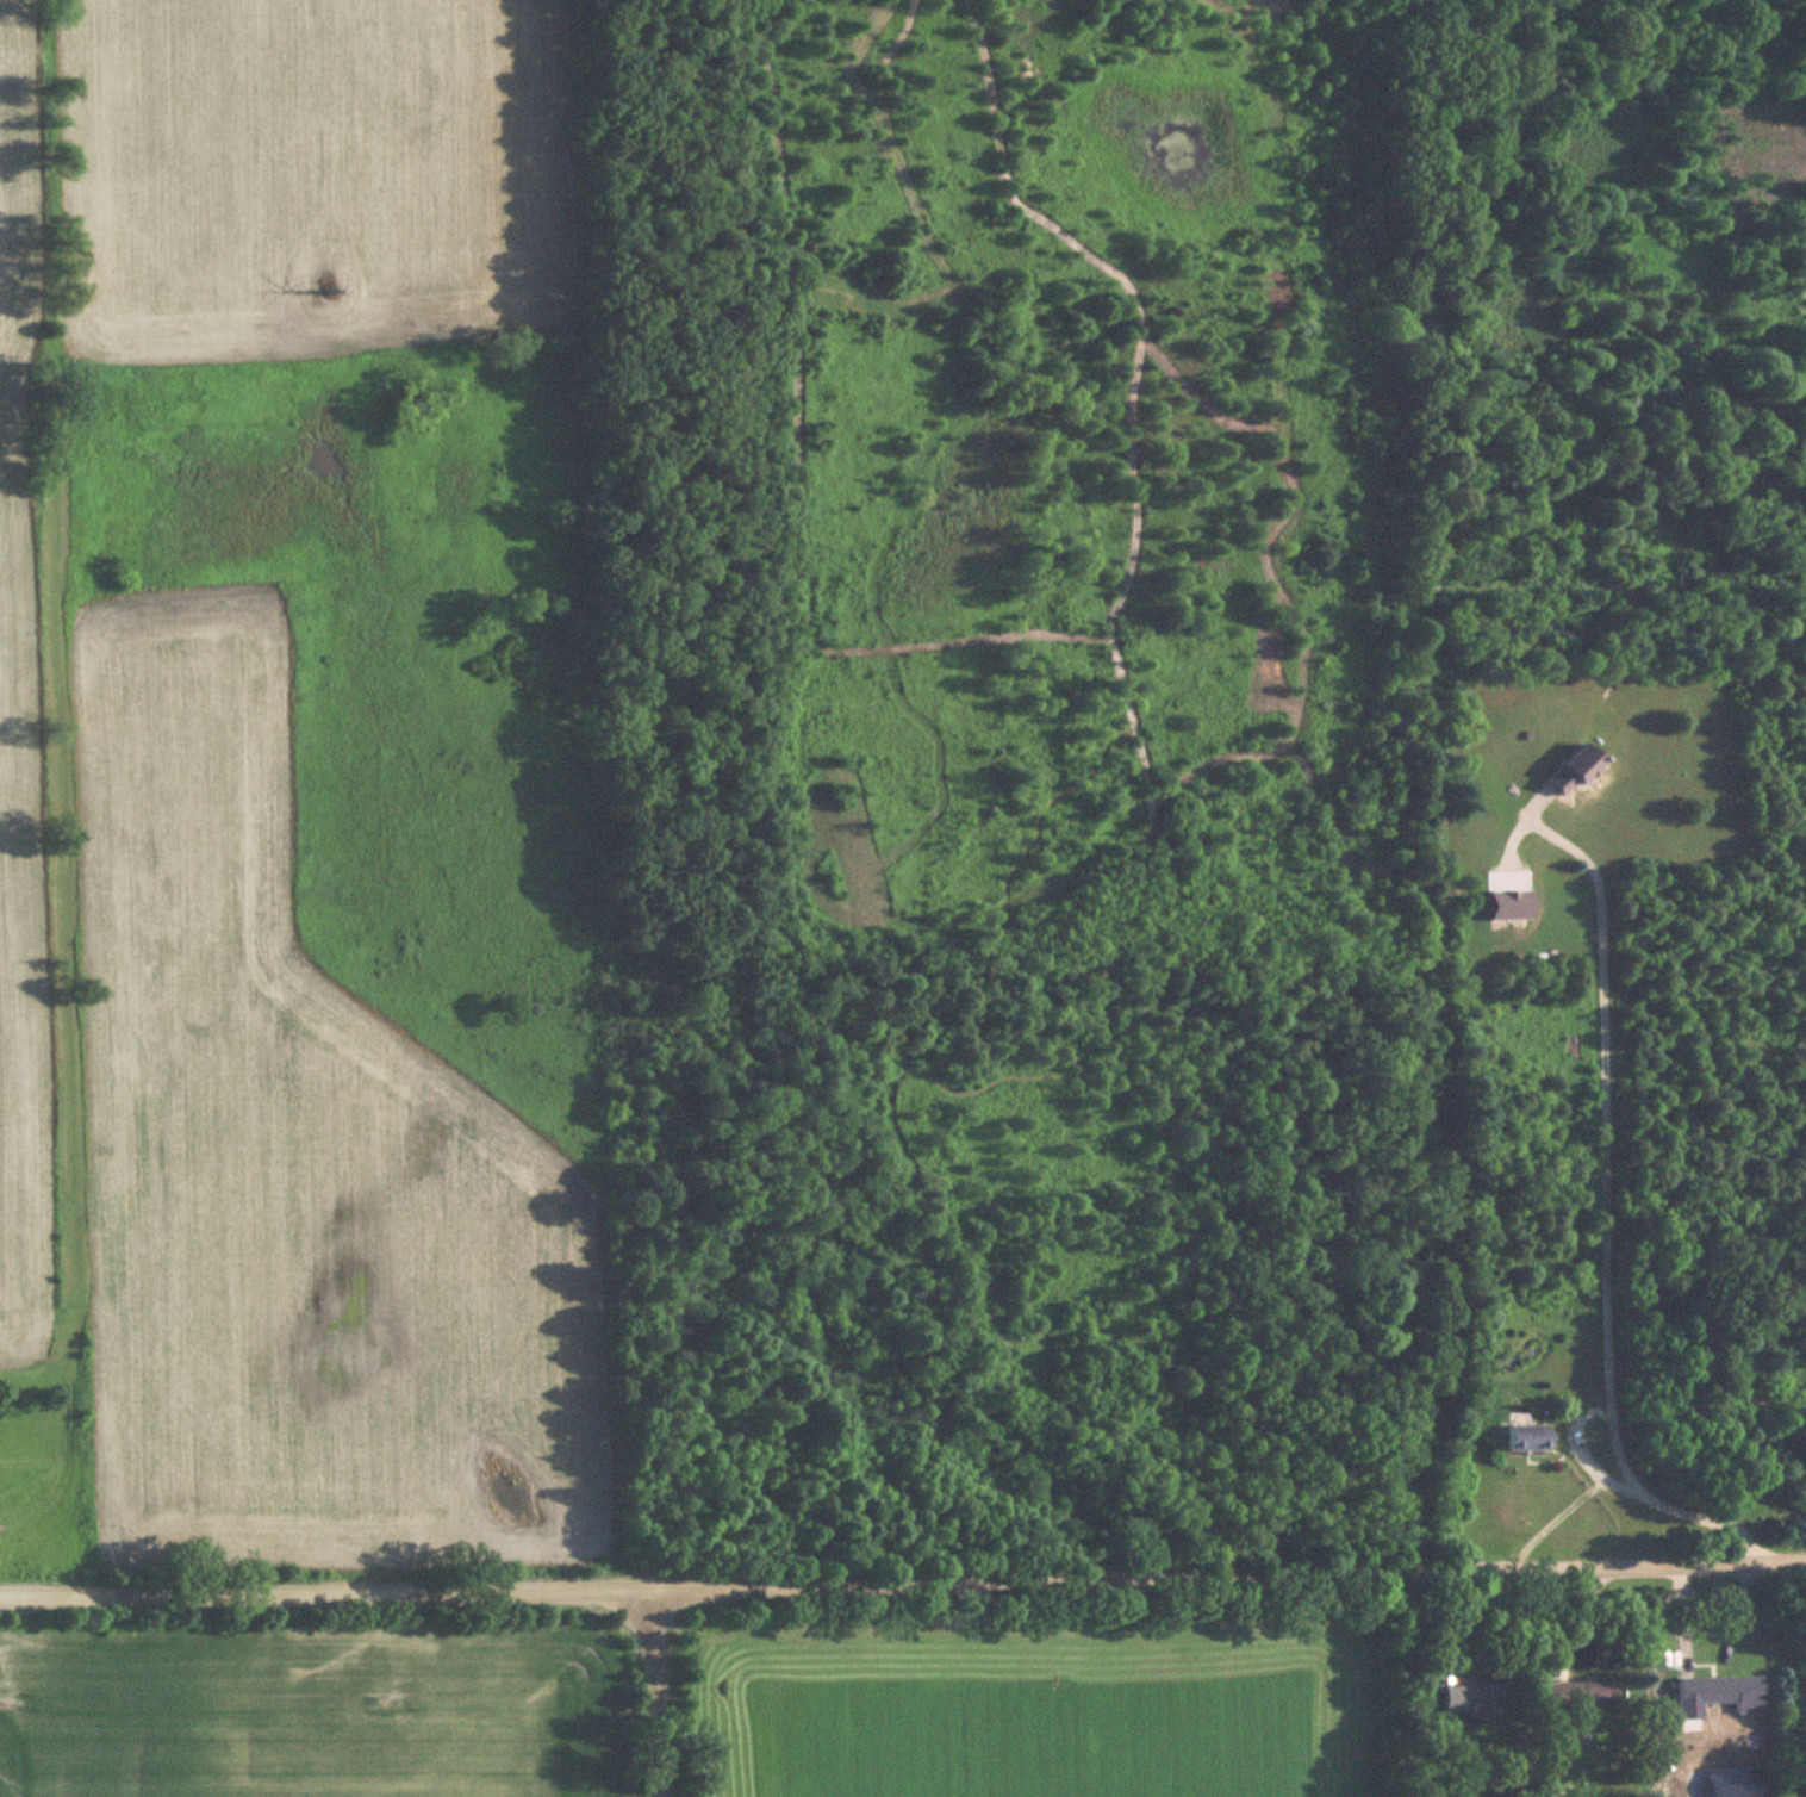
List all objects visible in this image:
building: (1576, 770)
road: (1605, 1215)
building: (1528, 1438)
road: (1580, 1450)
road: (1552, 1518)
road: (903, 1584)
building: (1707, 1690)
building: (1598, 1692)
road: (655, 1693)
building: (1472, 1696)

